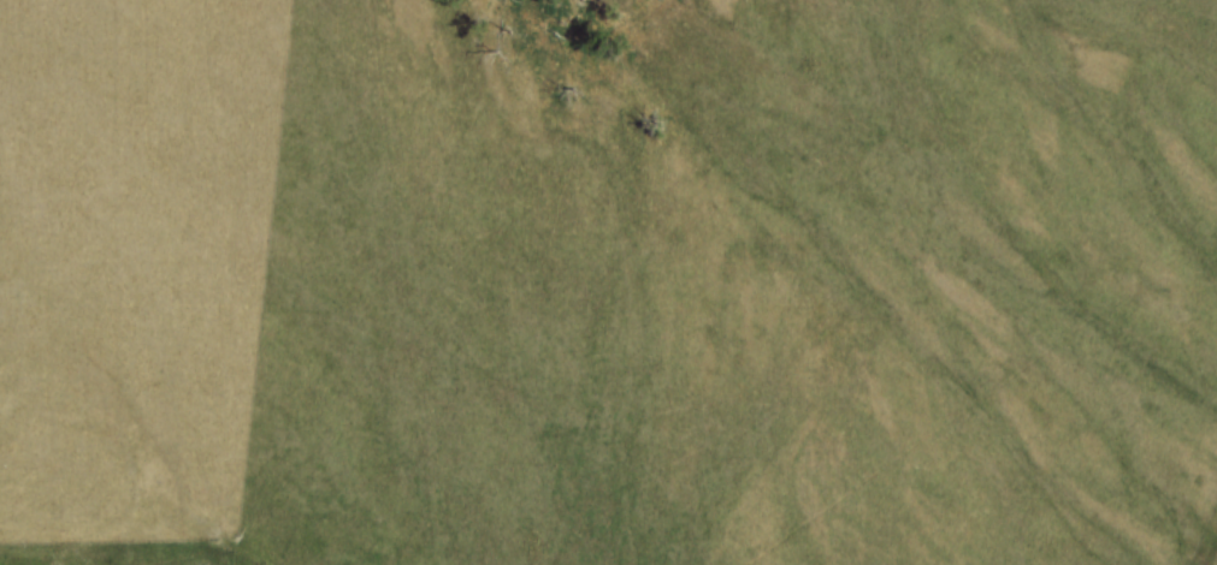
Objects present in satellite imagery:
crop: (1210, 548)

